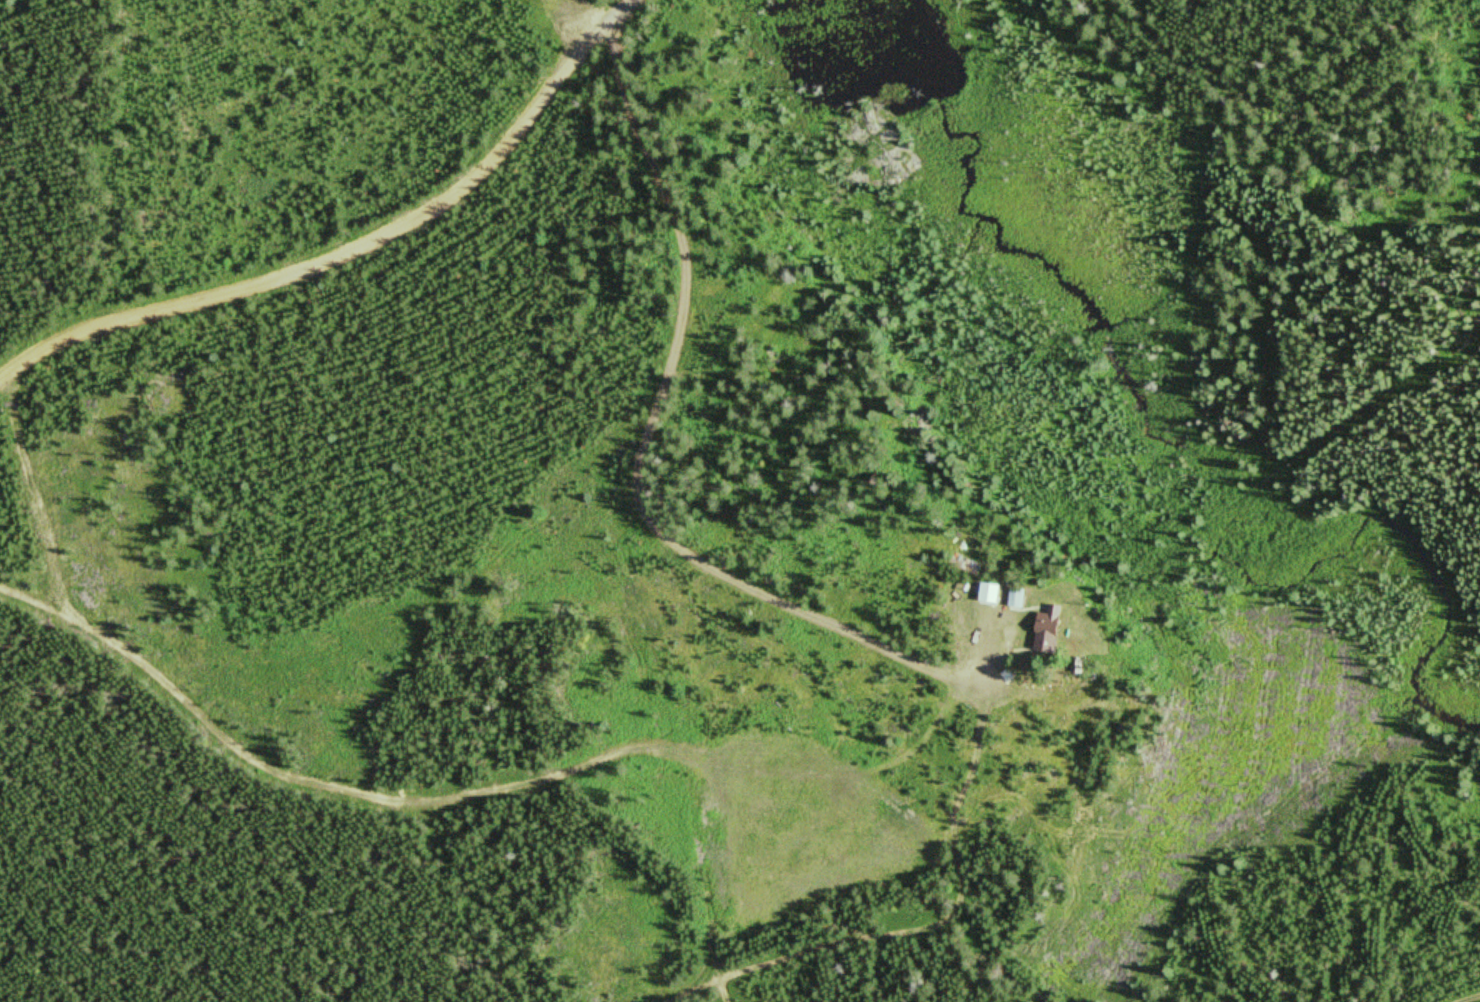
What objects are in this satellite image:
road: (342, 232)
road: (680, 289)
building: (966, 563)
building: (1018, 597)
building: (1052, 628)
road: (443, 797)
road: (896, 932)
road: (1458, 996)

